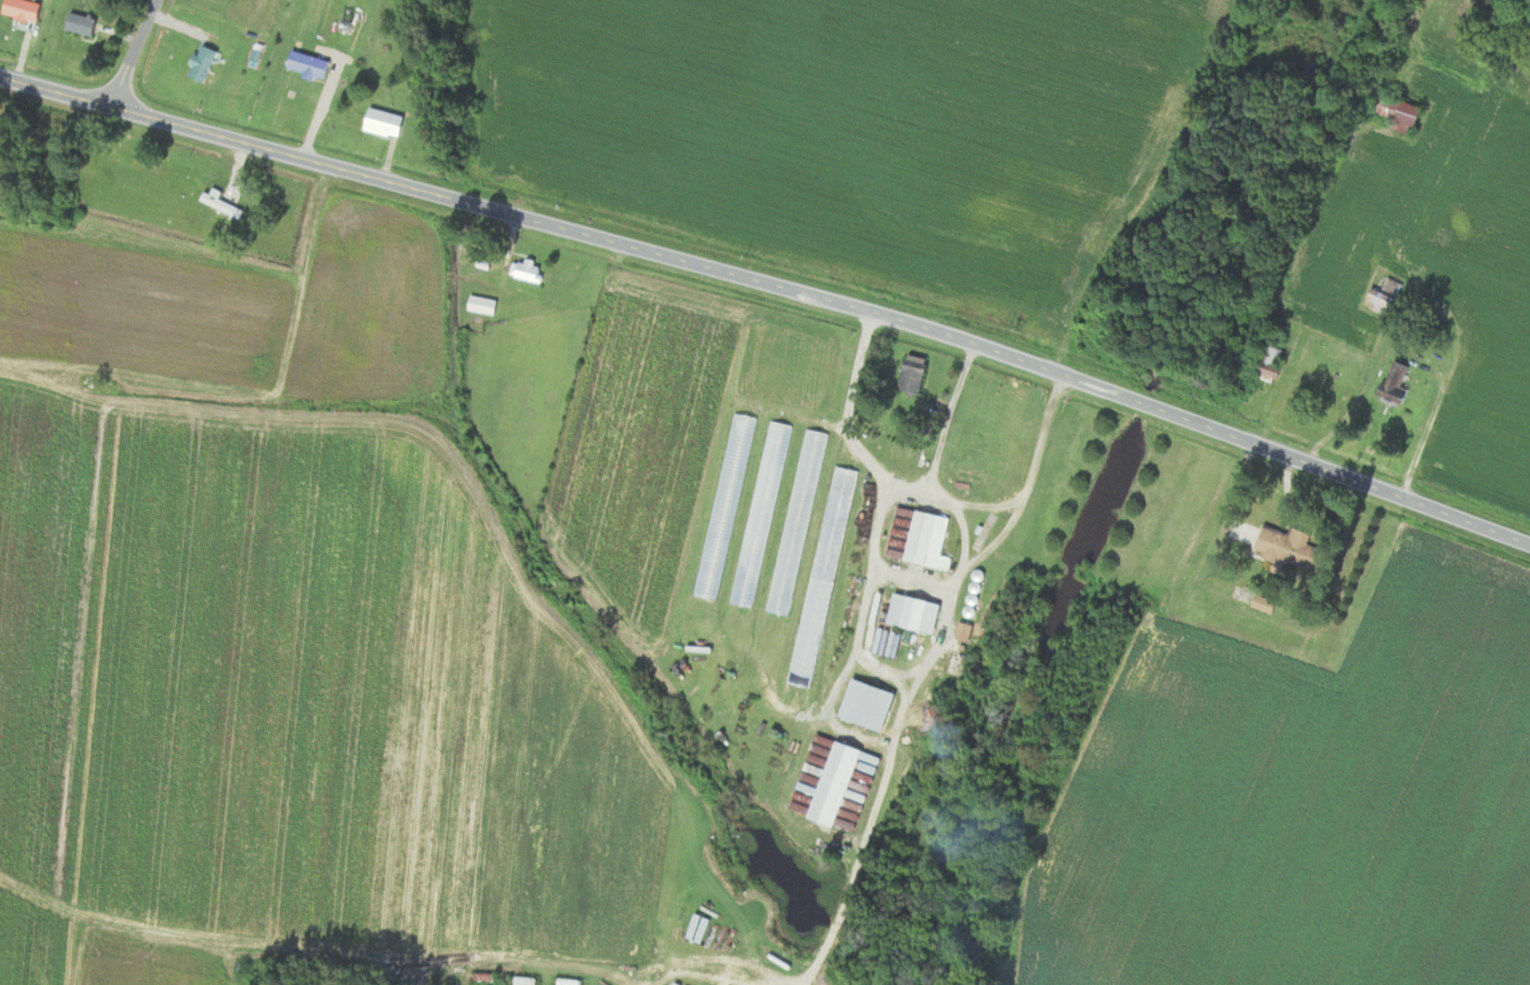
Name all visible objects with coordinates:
building: (21, 9)
building: (80, 23)
road: (135, 53)
building: (202, 63)
building: (307, 63)
building: (1405, 117)
building: (383, 122)
building: (218, 211)
building: (526, 270)
road: (773, 287)
building: (1383, 297)
building: (481, 305)
building: (1270, 363)
building: (911, 375)
building: (1394, 385)
road: (948, 416)
road: (1422, 442)
road: (927, 490)
building: (724, 506)
building: (760, 513)
building: (796, 521)
building: (927, 540)
building: (1288, 551)
building: (821, 576)
building: (1263, 603)
building: (911, 613)
building: (963, 631)
building: (866, 704)
building: (839, 780)

